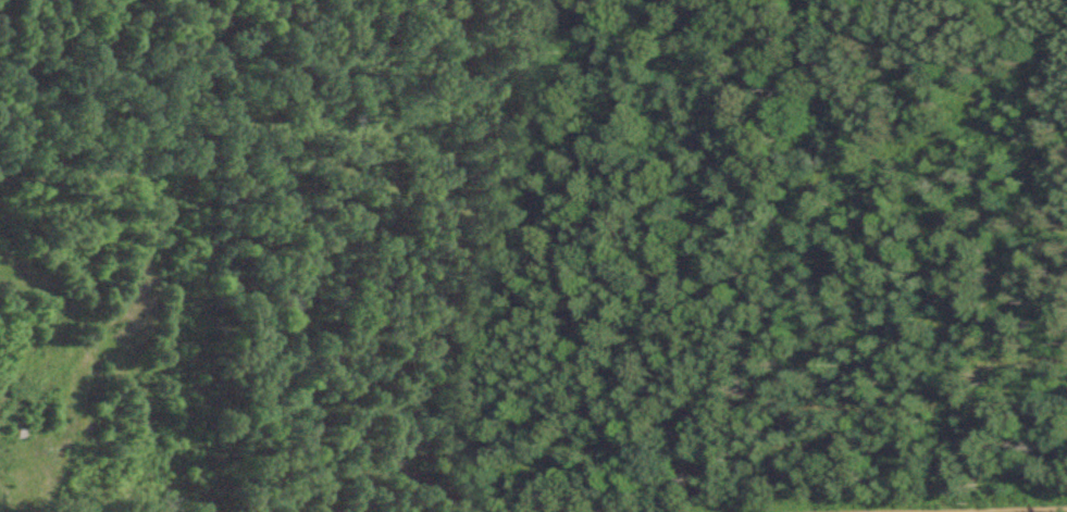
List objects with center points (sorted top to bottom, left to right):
road: (533, 496)

